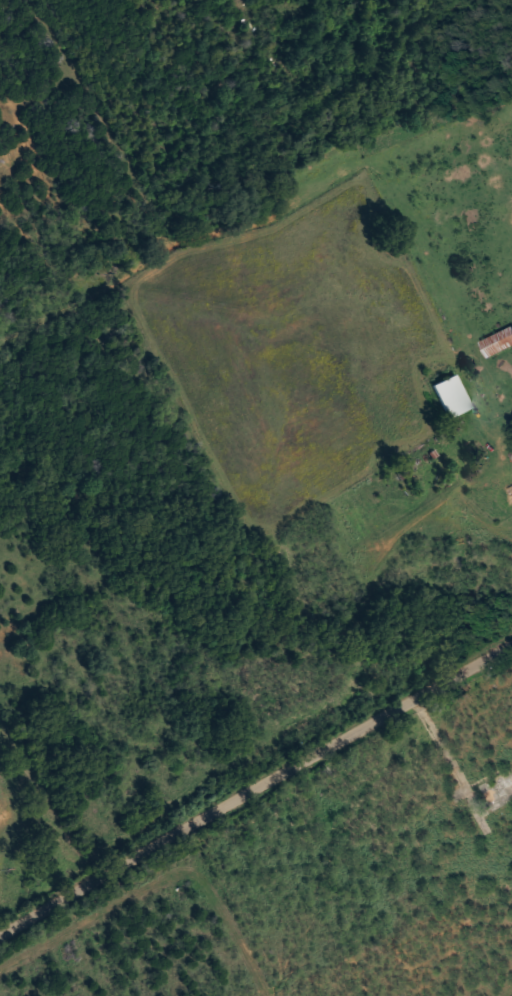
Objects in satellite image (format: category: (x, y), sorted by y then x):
building: (498, 343)
building: (451, 395)
road: (139, 595)
building: (511, 783)
road: (255, 786)

